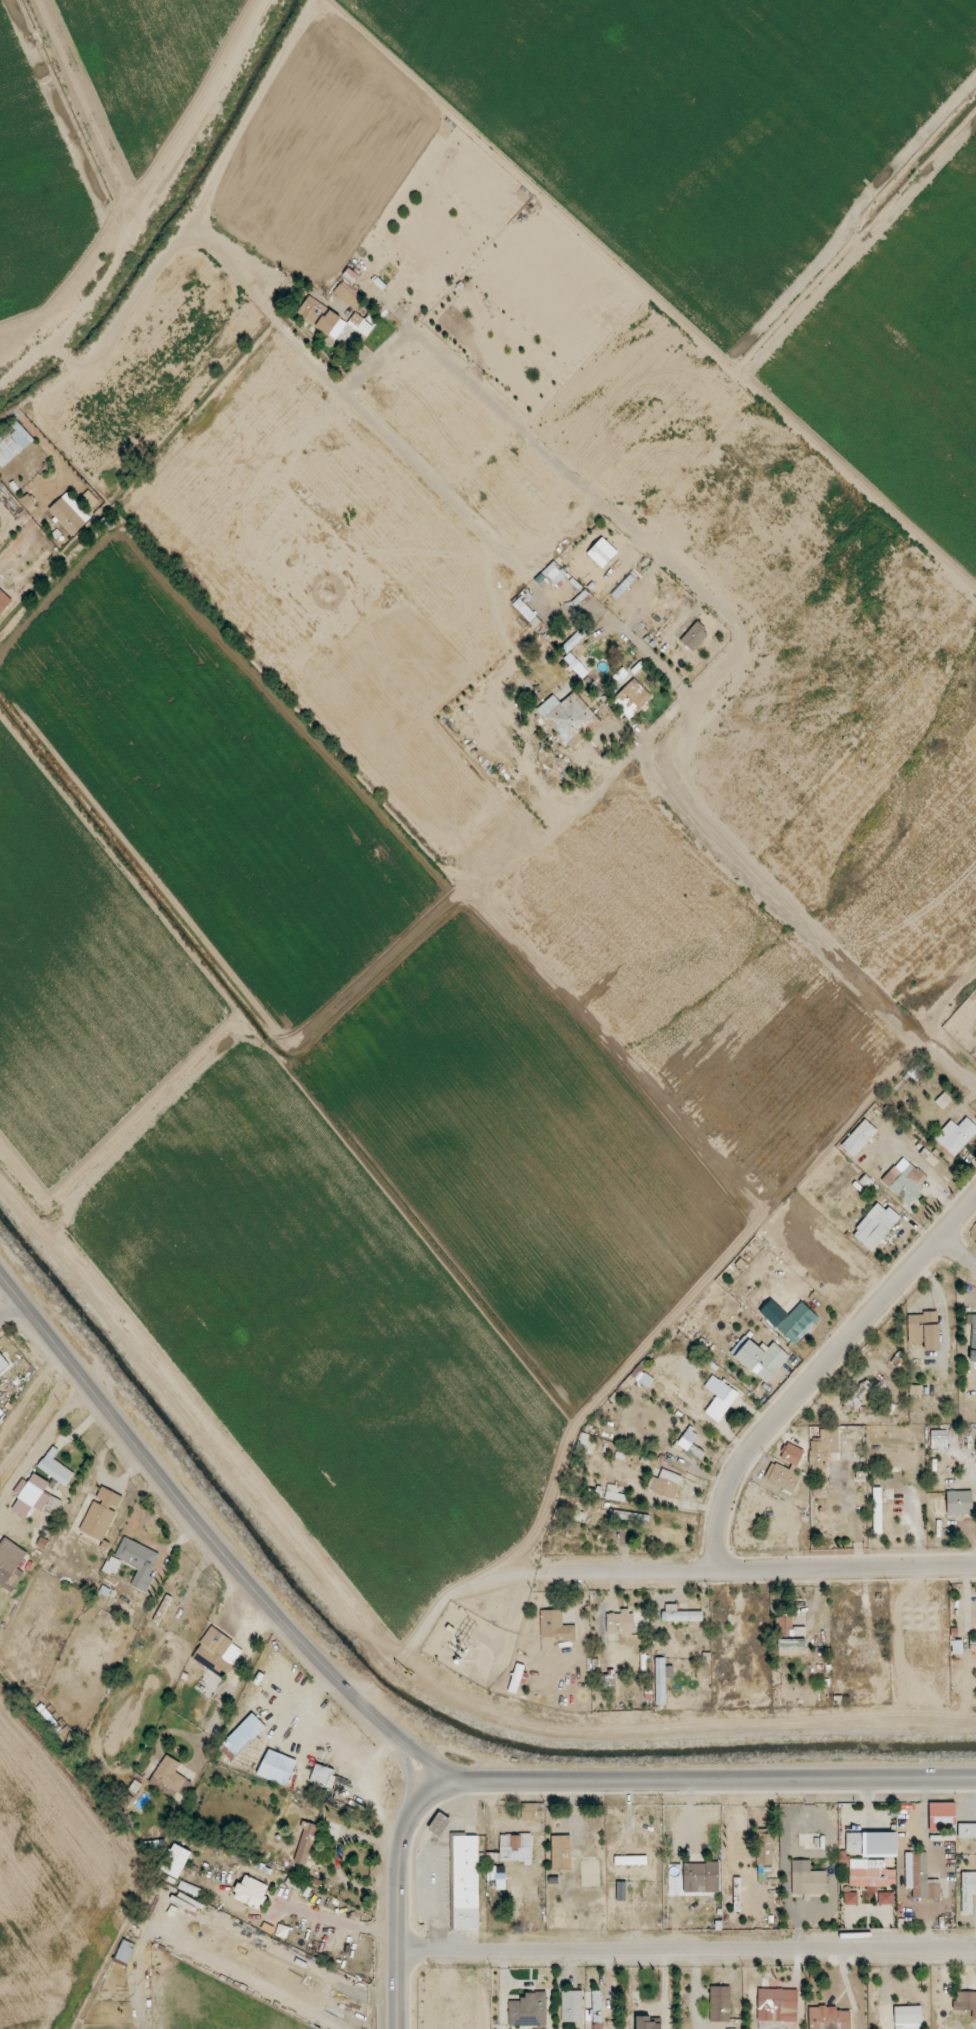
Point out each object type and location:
road: (146, 198)
building: (348, 295)
building: (332, 322)
building: (13, 445)
building: (89, 499)
road: (584, 513)
building: (69, 514)
building: (602, 552)
building: (555, 575)
building: (622, 587)
building: (4, 601)
building: (524, 610)
building: (694, 636)
building: (575, 638)
building: (576, 665)
building: (633, 696)
building: (567, 715)
road: (957, 1070)
building: (943, 1100)
building: (956, 1135)
building: (859, 1138)
road: (920, 1165)
building: (905, 1180)
road: (952, 1208)
building: (875, 1226)
road: (957, 1253)
road: (11, 1309)
building: (798, 1323)
building: (925, 1331)
building: (972, 1336)
building: (760, 1358)
building: (3, 1363)
road: (820, 1371)
building: (644, 1379)
building: (915, 1390)
building: (881, 1395)
building: (719, 1398)
building: (938, 1435)
road: (40, 1437)
building: (582, 1442)
building: (690, 1444)
building: (792, 1454)
building: (822, 1456)
building: (55, 1467)
building: (783, 1478)
building: (665, 1484)
building: (36, 1493)
building: (614, 1494)
building: (960, 1502)
building: (877, 1504)
building: (101, 1513)
building: (629, 1516)
road: (219, 1547)
building: (138, 1561)
building: (10, 1564)
building: (112, 1565)
road: (761, 1571)
road: (192, 1585)
building: (680, 1614)
building: (620, 1622)
building: (556, 1626)
building: (789, 1637)
building: (972, 1644)
building: (214, 1652)
building: (516, 1678)
building: (662, 1679)
building: (606, 1683)
building: (228, 1751)
building: (324, 1769)
building: (167, 1777)
road: (726, 1777)
road: (411, 1778)
building: (533, 1811)
building: (942, 1817)
building: (439, 1824)
building: (967, 1831)
building: (306, 1844)
building: (872, 1844)
building: (513, 1849)
building: (765, 1849)
building: (561, 1852)
building: (175, 1860)
building: (631, 1860)
building: (496, 1872)
building: (871, 1874)
road: (388, 1876)
building: (919, 1876)
building: (701, 1877)
building: (807, 1879)
building: (465, 1882)
building: (968, 1891)
building: (251, 1892)
building: (850, 1898)
building: (886, 1898)
road: (316, 1913)
building: (559, 1916)
road: (681, 1948)
building: (125, 1952)
building: (596, 2000)
building: (966, 2002)
building: (720, 2003)
building: (777, 2005)
building: (572, 2006)
building: (529, 2010)
building: (908, 2017)
building: (828, 2018)
building: (646, 2023)

